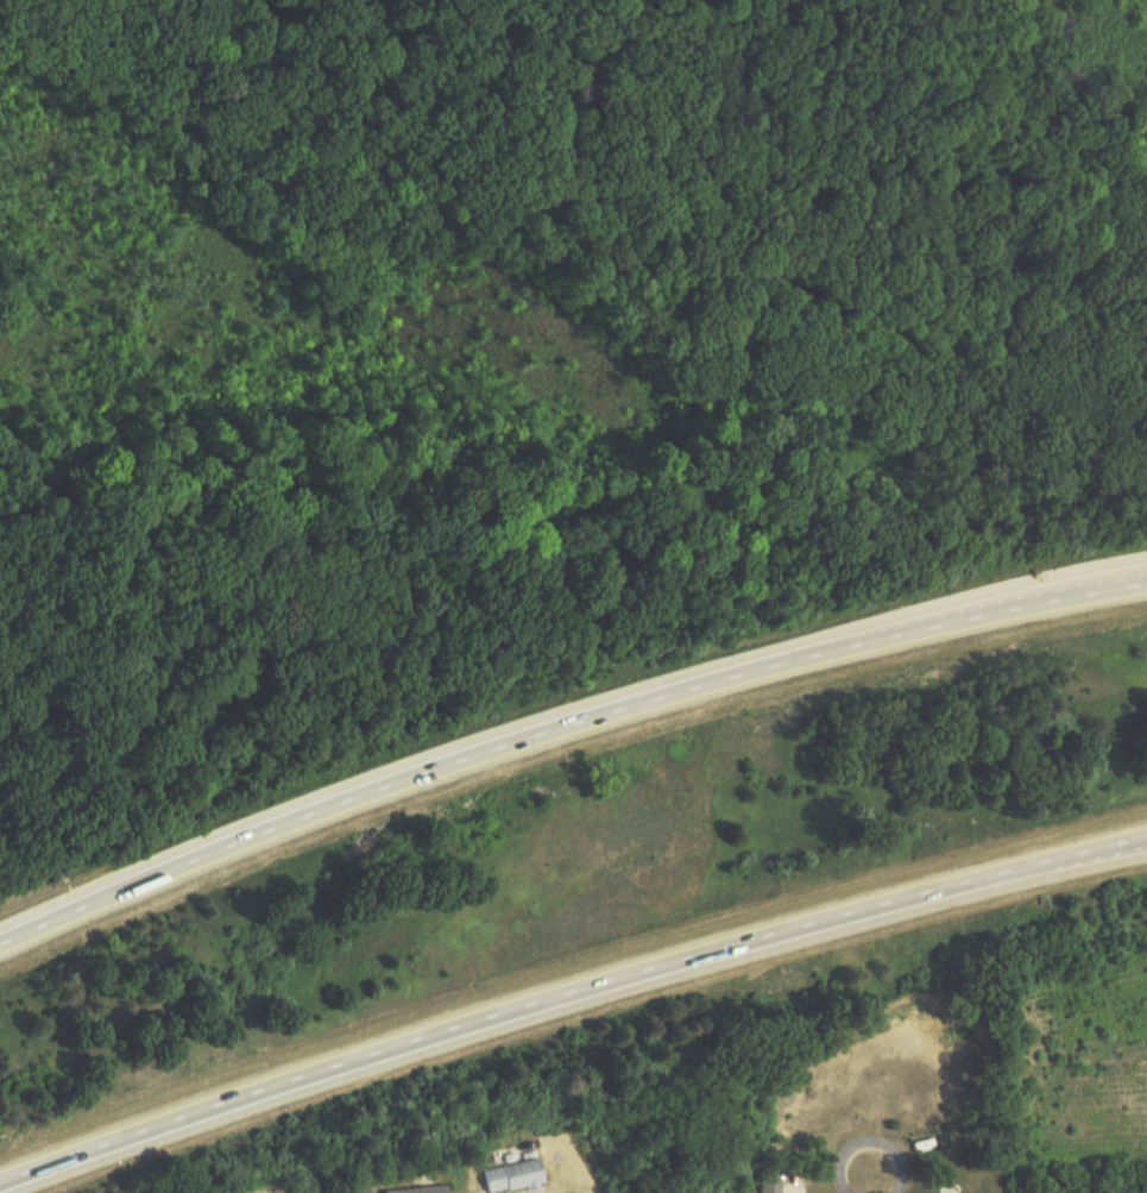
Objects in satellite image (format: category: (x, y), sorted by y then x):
park: (573, 243)
road: (561, 721)
road: (568, 992)
road: (875, 1139)
building: (515, 1176)
building: (769, 1188)
building: (416, 1191)

